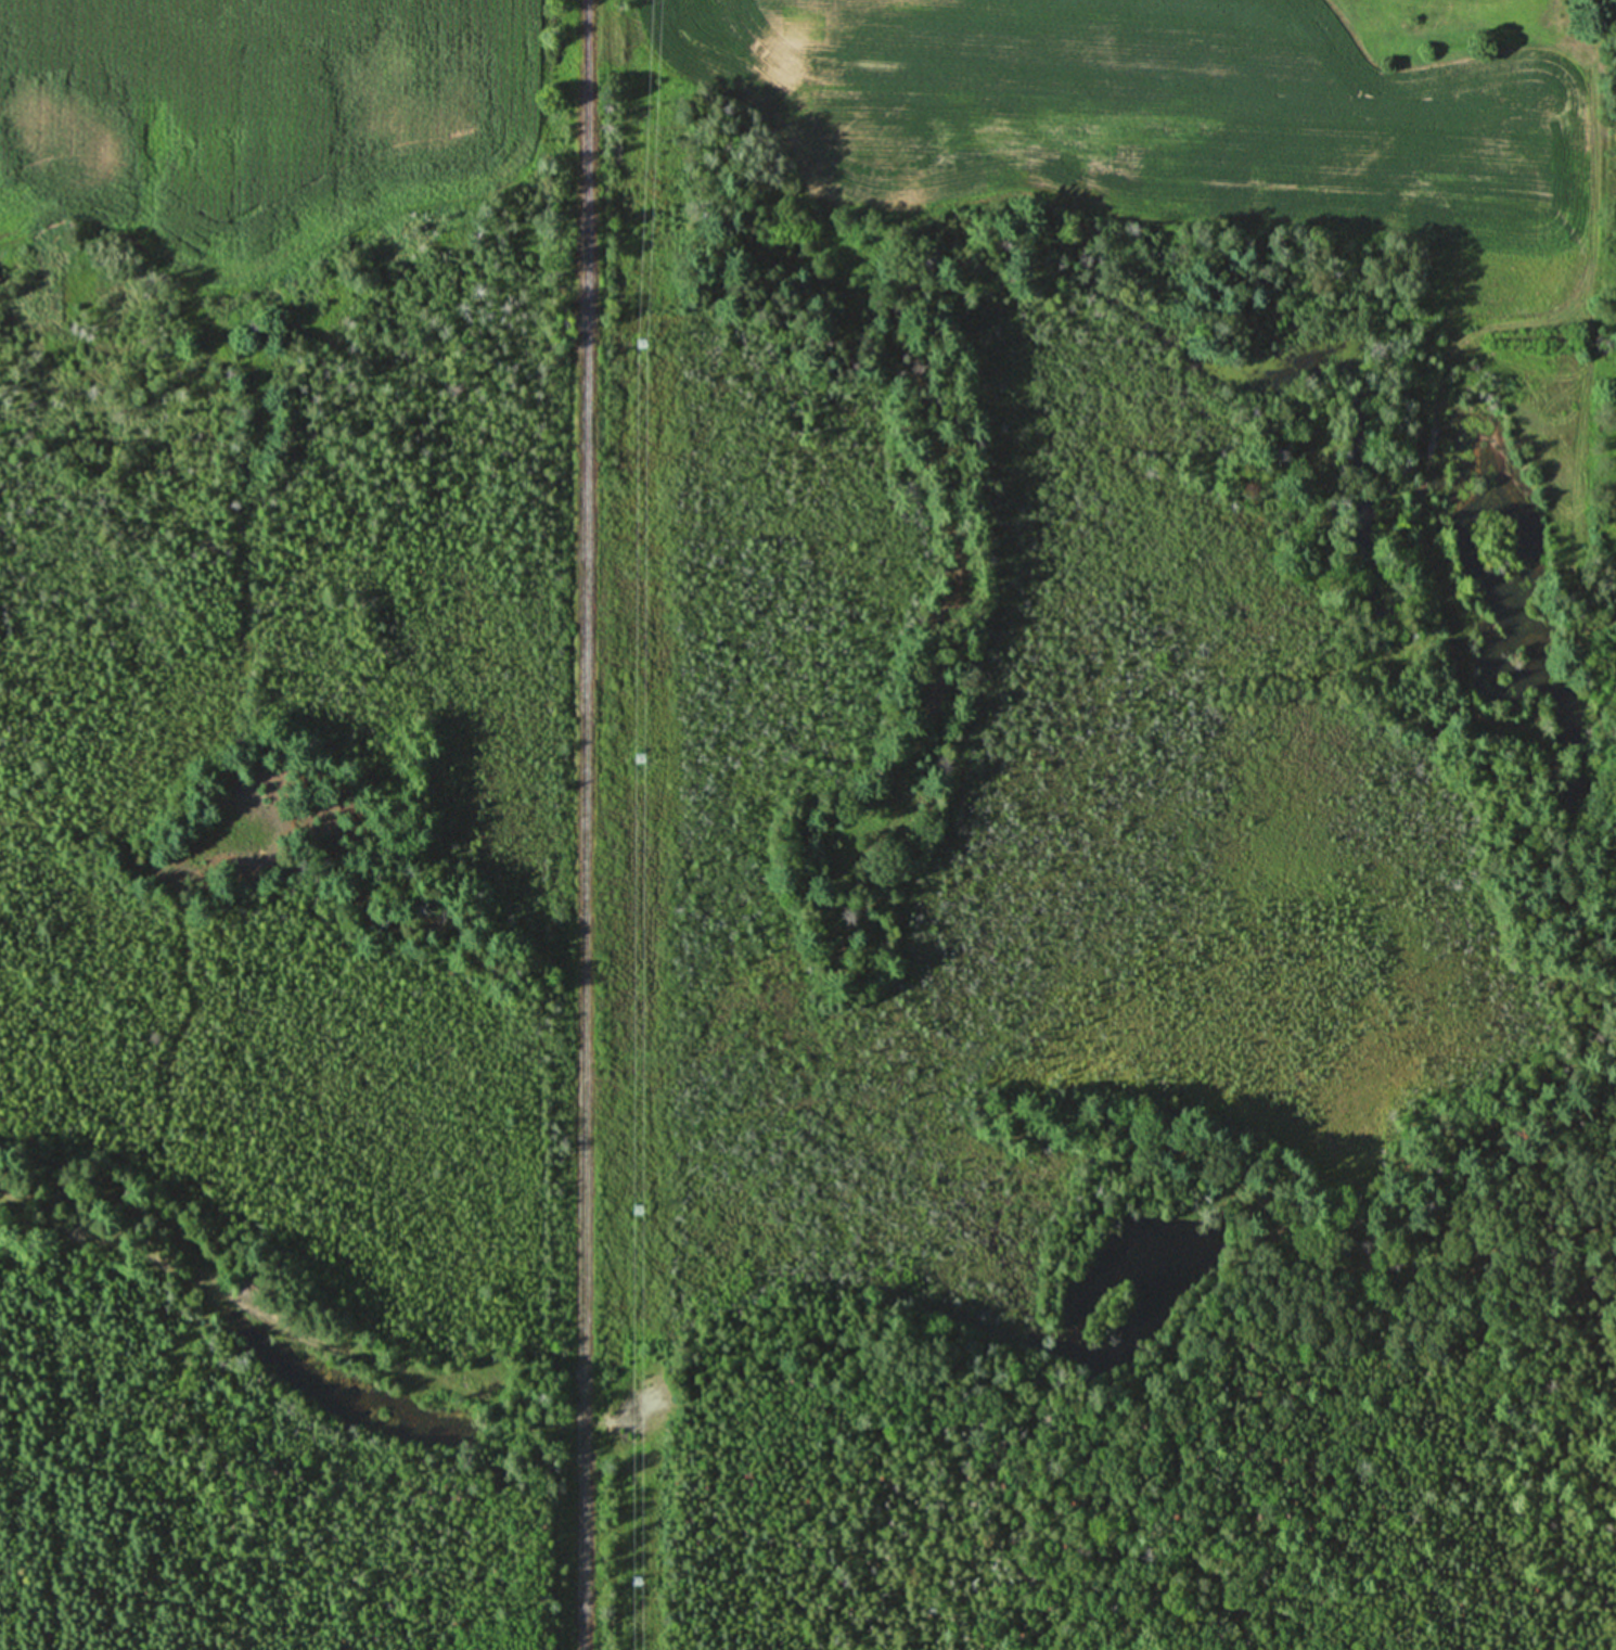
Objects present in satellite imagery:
power tower: (642, 337)
power tower: (639, 757)
railway: (580, 824)
power tower: (638, 1212)
road: (229, 1293)
power tower: (636, 1578)

